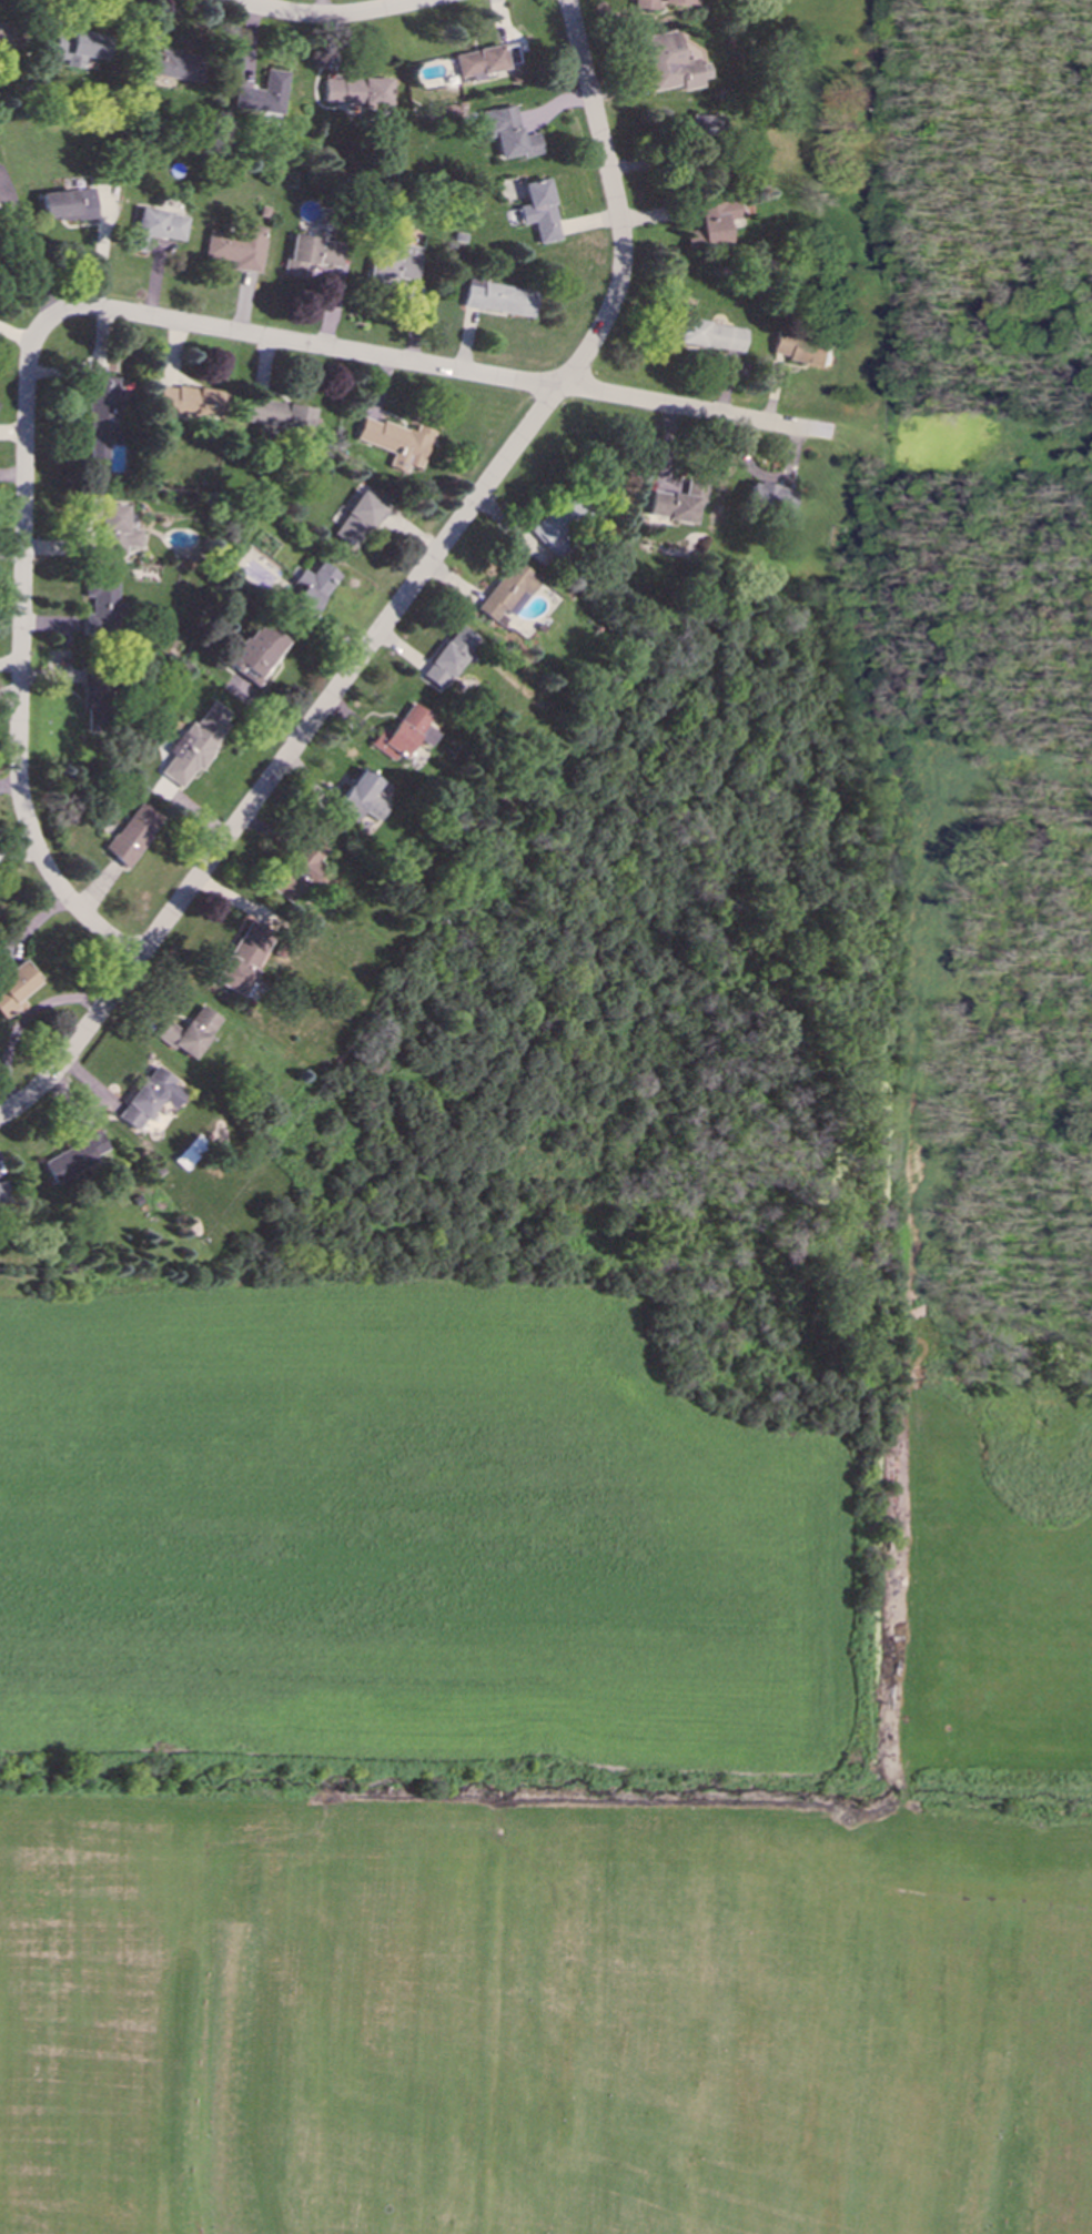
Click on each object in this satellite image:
building: (655, 2)
road: (327, 14)
building: (7, 34)
building: (78, 46)
building: (477, 61)
building: (669, 62)
building: (171, 63)
building: (355, 90)
building: (262, 93)
building: (705, 122)
building: (506, 132)
building: (65, 203)
building: (537, 210)
building: (711, 222)
road: (28, 245)
building: (236, 246)
building: (310, 253)
building: (392, 261)
building: (497, 297)
building: (709, 334)
building: (801, 348)
road: (368, 356)
building: (188, 400)
building: (277, 414)
road: (755, 421)
building: (101, 422)
building: (394, 441)
building: (770, 497)
building: (677, 501)
building: (354, 518)
building: (555, 525)
building: (113, 529)
road: (414, 579)
building: (307, 587)
building: (505, 589)
building: (100, 605)
building: (253, 651)
road: (18, 655)
building: (446, 656)
building: (90, 700)
building: (401, 731)
building: (193, 742)
building: (356, 798)
building: (131, 832)
building: (294, 870)
building: (241, 958)
building: (13, 987)
building: (188, 1031)
building: (148, 1096)
road: (12, 1109)
building: (74, 1154)
building: (2, 1195)
crop: (526, 1555)

